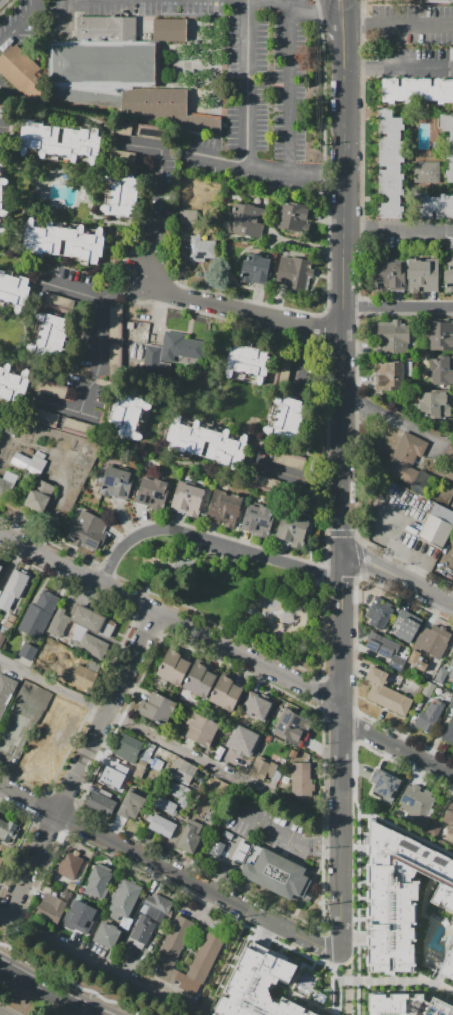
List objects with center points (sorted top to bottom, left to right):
building: (395, 0)
road: (347, 1)
building: (439, 1)
road: (293, 7)
road: (333, 10)
road: (345, 10)
road: (61, 11)
road: (19, 22)
road: (397, 24)
parking lot: (418, 24)
building: (169, 30)
parking lot: (412, 54)
building: (451, 54)
parking lot: (451, 54)
building: (104, 55)
road: (398, 69)
building: (21, 71)
road: (247, 83)
parking lot: (238, 84)
building: (418, 90)
road: (291, 91)
building: (162, 107)
building: (1, 111)
parking lot: (5, 123)
building: (2, 139)
building: (61, 141)
building: (448, 142)
building: (123, 158)
building: (3, 162)
building: (389, 165)
road: (269, 170)
building: (427, 171)
road: (160, 176)
parking lot: (165, 178)
building: (121, 194)
building: (2, 196)
building: (433, 206)
building: (191, 216)
building: (294, 217)
road: (19, 220)
building: (247, 220)
road: (129, 222)
road: (398, 228)
building: (2, 233)
road: (111, 240)
parking lot: (411, 243)
building: (450, 243)
parking lot: (450, 243)
road: (304, 244)
building: (84, 245)
building: (201, 250)
road: (21, 261)
road: (150, 264)
building: (254, 269)
building: (293, 272)
building: (422, 274)
building: (390, 276)
building: (449, 278)
road: (123, 287)
road: (343, 288)
road: (37, 291)
building: (13, 292)
building: (58, 298)
road: (397, 306)
road: (56, 309)
road: (242, 309)
building: (115, 321)
building: (393, 333)
road: (26, 335)
building: (441, 335)
building: (50, 336)
road: (305, 338)
parking lot: (81, 346)
building: (171, 351)
building: (115, 359)
road: (99, 360)
building: (247, 361)
building: (285, 368)
road: (298, 369)
building: (441, 370)
parking lot: (296, 372)
building: (390, 375)
building: (12, 383)
building: (51, 388)
road: (270, 390)
road: (157, 393)
building: (435, 405)
road: (19, 410)
building: (128, 416)
building: (44, 417)
building: (285, 419)
road: (395, 420)
building: (452, 423)
building: (77, 428)
building: (185, 440)
road: (173, 454)
building: (449, 454)
building: (405, 458)
building: (289, 459)
building: (29, 462)
parking lot: (282, 471)
road: (288, 473)
building: (7, 481)
building: (117, 483)
building: (263, 483)
road: (327, 485)
building: (155, 492)
building: (39, 495)
building: (188, 499)
building: (223, 509)
building: (258, 521)
building: (437, 525)
building: (87, 530)
building: (292, 531)
road: (210, 540)
parking lot: (219, 552)
building: (0, 565)
building: (0, 567)
road: (399, 577)
road: (171, 581)
building: (13, 589)
building: (0, 591)
park: (237, 599)
building: (378, 612)
road: (273, 613)
building: (39, 614)
building: (11, 618)
road: (172, 618)
building: (92, 621)
building: (58, 623)
building: (7, 624)
building: (407, 625)
building: (4, 629)
building: (2, 638)
building: (433, 641)
building: (88, 642)
building: (381, 645)
building: (28, 651)
building: (417, 661)
building: (396, 662)
building: (451, 666)
building: (173, 667)
building: (86, 675)
building: (441, 675)
building: (376, 676)
building: (452, 676)
building: (199, 680)
building: (6, 691)
building: (225, 693)
building: (379, 694)
building: (27, 701)
building: (399, 703)
building: (256, 706)
building: (158, 709)
building: (429, 717)
building: (288, 726)
building: (201, 730)
building: (449, 732)
building: (242, 741)
building: (6, 747)
building: (127, 748)
road: (171, 748)
road: (399, 748)
building: (219, 753)
building: (293, 754)
road: (345, 755)
road: (83, 762)
building: (140, 769)
building: (264, 769)
building: (183, 772)
building: (113, 773)
building: (301, 779)
building: (387, 786)
building: (220, 788)
building: (178, 791)
building: (101, 802)
building: (419, 802)
building: (131, 805)
building: (165, 805)
building: (449, 822)
building: (161, 825)
road: (399, 826)
parking lot: (266, 827)
road: (269, 827)
building: (433, 828)
building: (7, 830)
building: (227, 834)
building: (189, 837)
road: (324, 840)
building: (220, 844)
building: (233, 847)
road: (327, 852)
building: (0, 858)
building: (70, 864)
road: (171, 871)
building: (278, 874)
building: (99, 880)
building: (71, 886)
building: (400, 893)
building: (76, 896)
building: (124, 897)
building: (158, 902)
building: (50, 908)
building: (79, 916)
road: (354, 921)
building: (452, 925)
building: (143, 929)
building: (106, 935)
building: (76, 936)
building: (174, 941)
building: (204, 956)
road: (102, 962)
road: (231, 964)
building: (448, 966)
road: (337, 979)
road: (70, 980)
road: (396, 980)
road: (347, 983)
building: (256, 987)
road: (46, 991)
building: (406, 1005)

